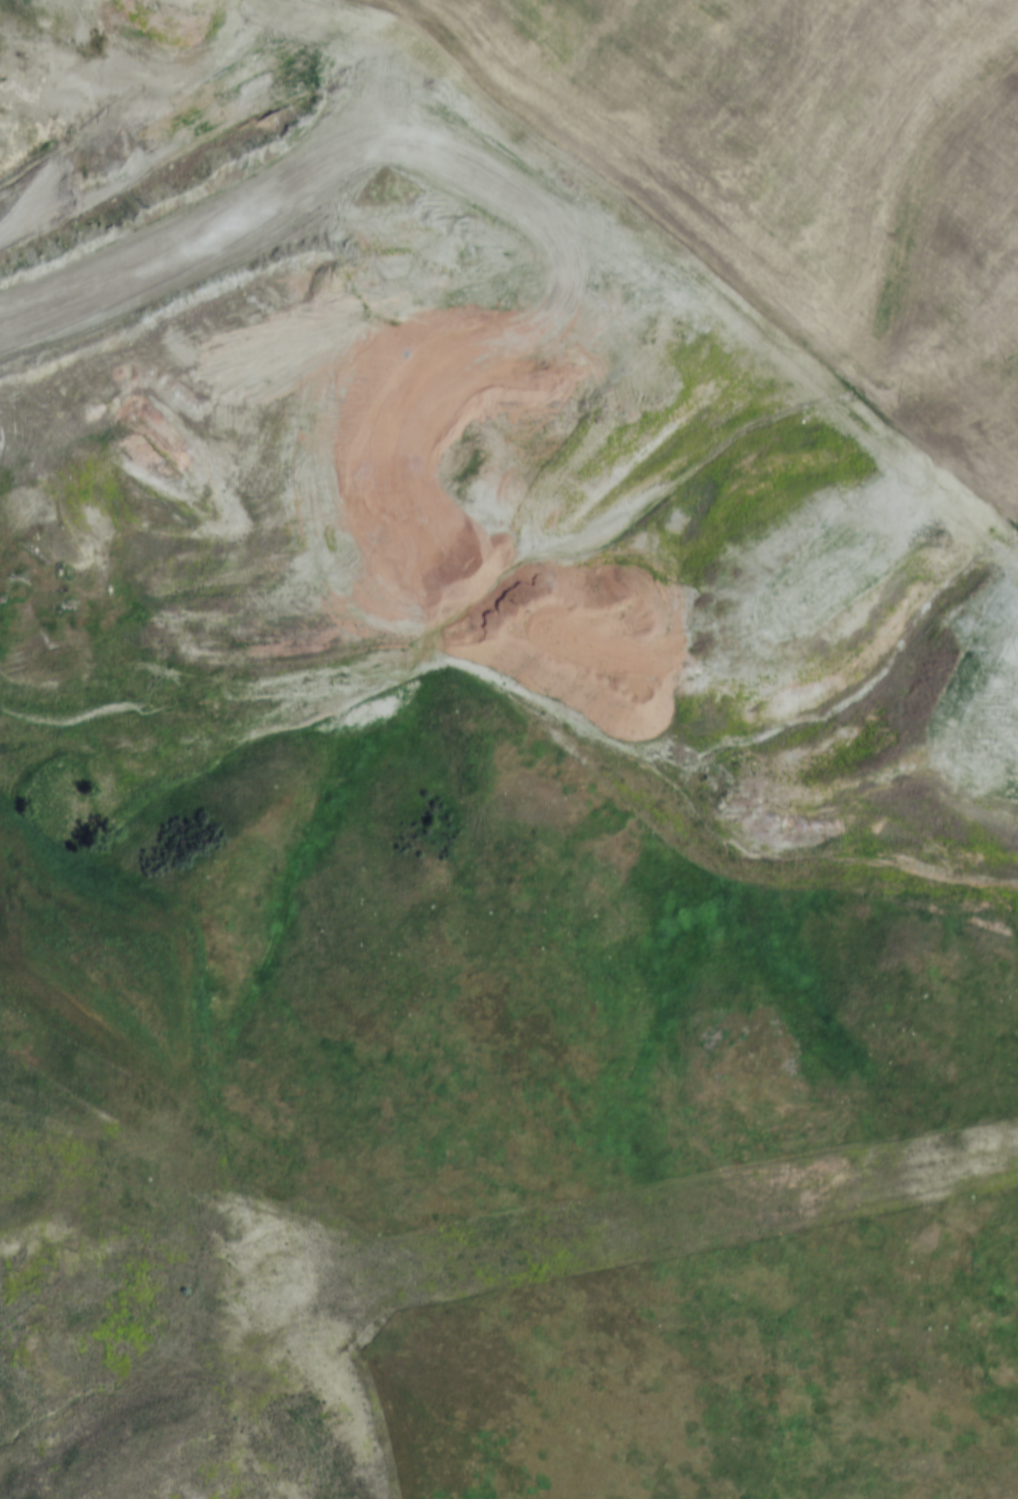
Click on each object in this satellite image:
road: (49, 1088)

